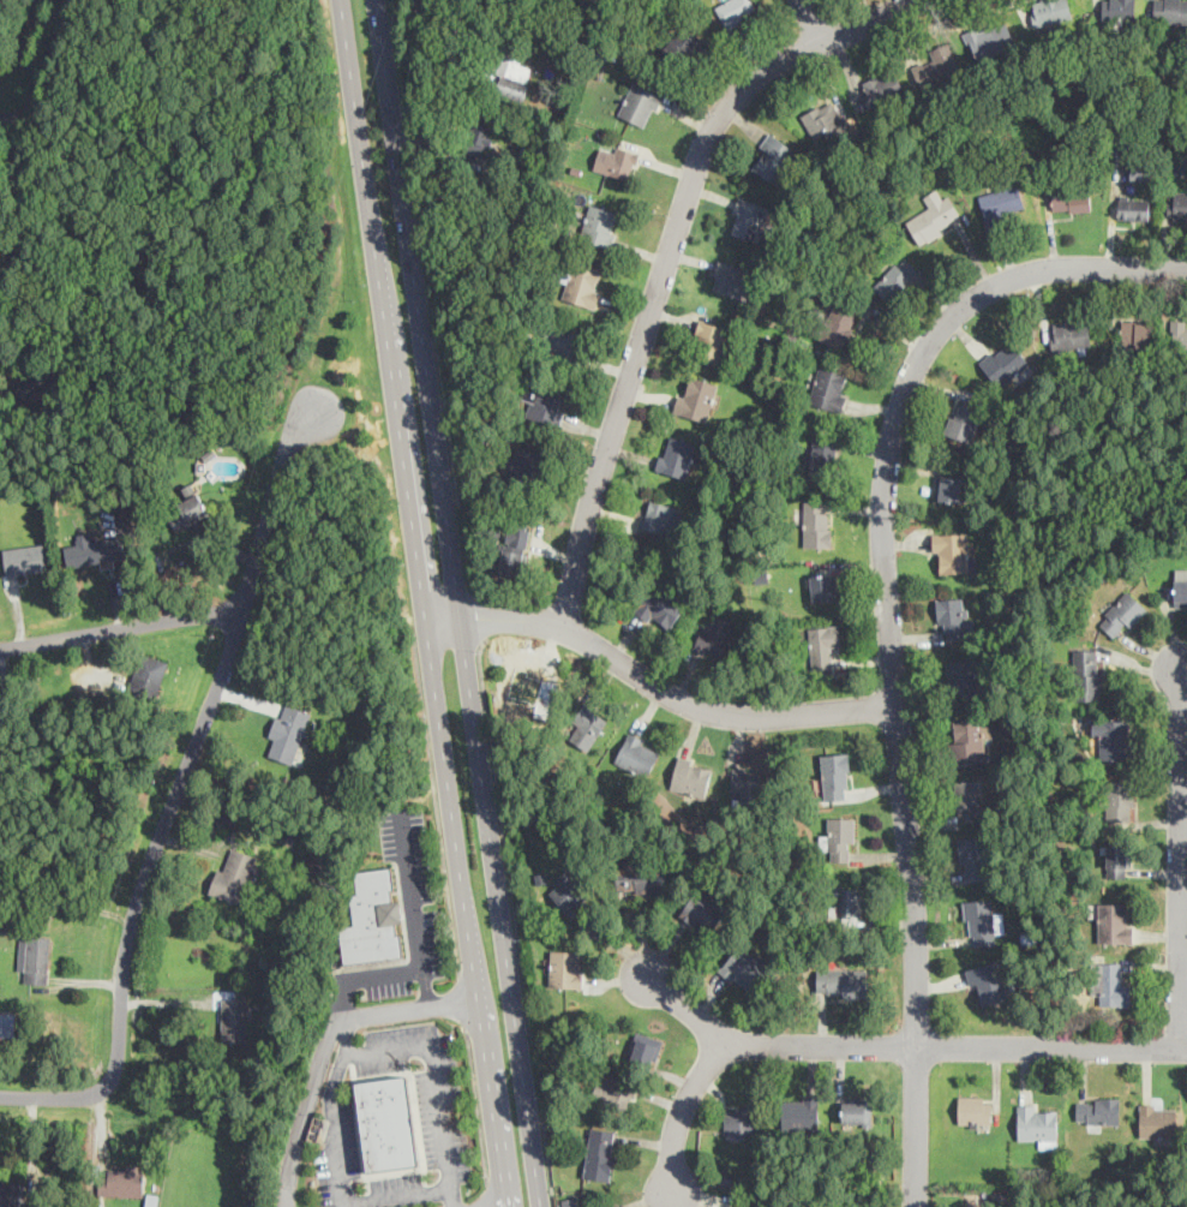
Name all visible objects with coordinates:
road: (422, 4)
building: (1119, 8)
building: (736, 11)
building: (1049, 11)
building: (1170, 11)
road: (808, 22)
building: (991, 40)
building: (683, 43)
road: (42, 53)
building: (936, 65)
building: (511, 71)
building: (881, 86)
building: (640, 103)
building: (822, 118)
building: (480, 136)
building: (774, 157)
building: (617, 160)
building: (1140, 171)
building: (1071, 198)
building: (1003, 199)
building: (1177, 204)
building: (1134, 207)
building: (934, 215)
building: (747, 217)
building: (599, 223)
road: (665, 256)
building: (897, 277)
building: (732, 279)
building: (582, 283)
road: (430, 299)
building: (839, 323)
building: (1069, 333)
building: (1137, 333)
building: (1177, 335)
building: (563, 340)
building: (711, 340)
building: (1005, 361)
building: (829, 387)
building: (696, 396)
building: (546, 402)
building: (964, 420)
building: (677, 455)
building: (823, 455)
building: (528, 462)
building: (951, 488)
building: (192, 501)
building: (661, 515)
building: (816, 522)
building: (514, 548)
building: (96, 551)
building: (952, 551)
building: (25, 558)
building: (822, 585)
building: (1180, 586)
road: (425, 603)
road: (458, 603)
building: (660, 607)
building: (1122, 614)
building: (954, 616)
road: (478, 620)
road: (118, 627)
road: (887, 628)
building: (715, 637)
building: (821, 645)
building: (149, 674)
building: (1087, 674)
building: (963, 676)
road: (654, 685)
building: (588, 724)
building: (287, 731)
building: (967, 737)
building: (1116, 739)
road: (193, 743)
building: (637, 753)
building: (835, 776)
building: (693, 777)
building: (745, 785)
building: (966, 799)
building: (1120, 799)
road: (436, 807)
building: (840, 837)
building: (972, 858)
building: (1117, 859)
road: (1177, 860)
building: (235, 874)
building: (642, 876)
building: (574, 892)
building: (847, 901)
road: (415, 908)
building: (705, 909)
building: (372, 918)
road: (514, 920)
building: (982, 921)
building: (1116, 921)
building: (35, 957)
building: (565, 968)
building: (744, 968)
road: (382, 973)
building: (989, 981)
building: (841, 982)
building: (1111, 986)
road: (338, 1000)
road: (463, 1002)
road: (688, 1008)
building: (234, 1018)
building: (7, 1023)
road: (346, 1036)
road: (328, 1044)
road: (875, 1047)
building: (646, 1048)
road: (433, 1074)
road: (338, 1078)
building: (613, 1093)
road: (60, 1097)
road: (478, 1104)
building: (975, 1109)
building: (1098, 1110)
building: (801, 1111)
building: (857, 1111)
building: (741, 1119)
building: (1157, 1119)
building: (386, 1123)
building: (1038, 1123)
building: (600, 1153)
building: (122, 1179)
building: (11, 1191)
road: (488, 1193)
road: (452, 1197)
building: (568, 1201)
road: (347, 1205)
road: (344, 1206)

